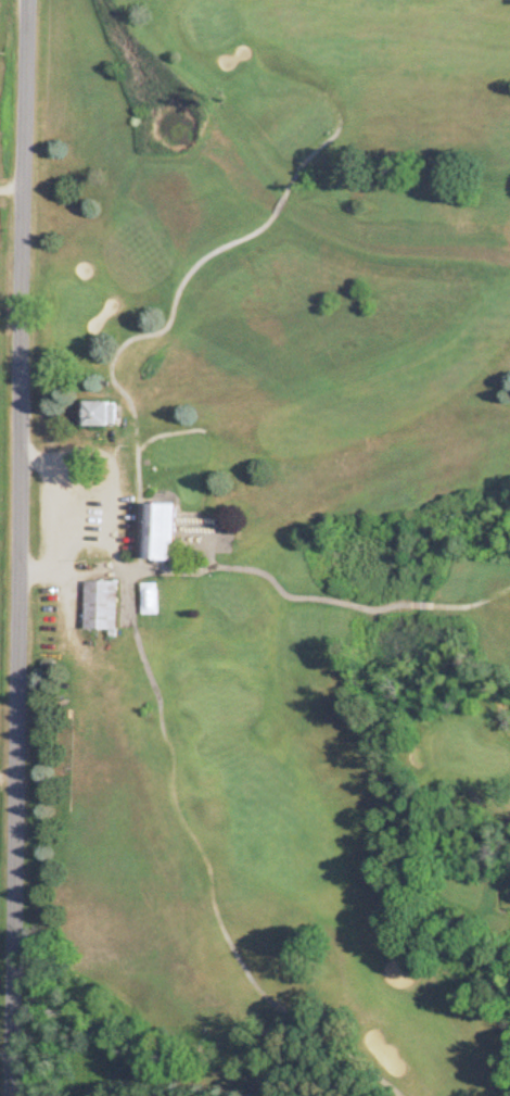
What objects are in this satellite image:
road: (9, 185)
building: (95, 414)
road: (53, 513)
building: (152, 531)
road: (13, 547)
park: (269, 549)
building: (156, 597)
building: (178, 597)
building: (95, 605)
road: (5, 772)

